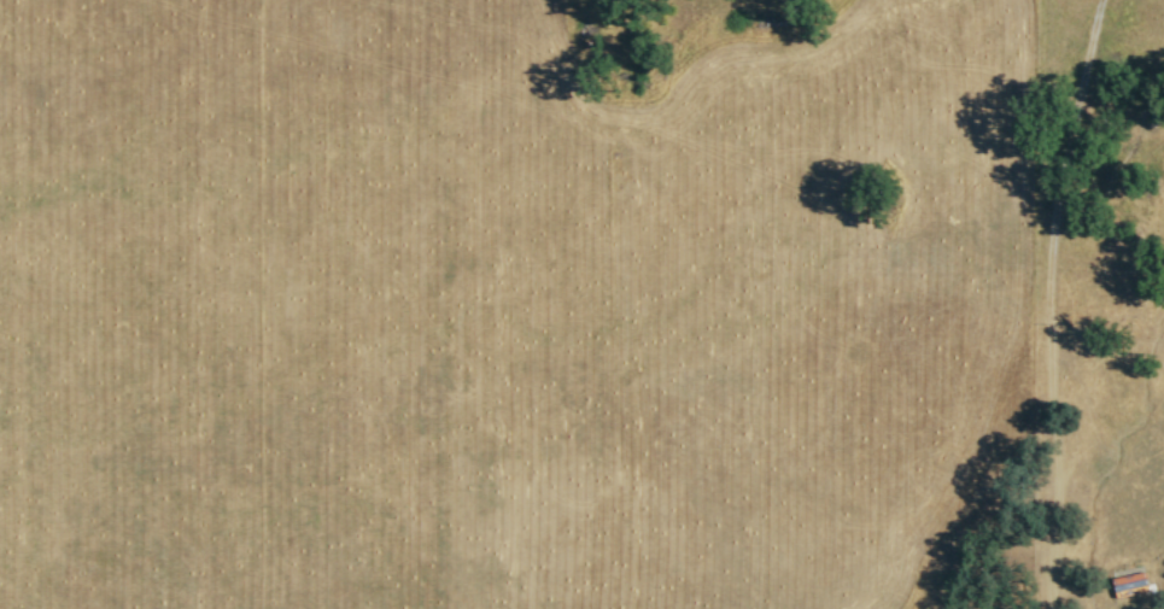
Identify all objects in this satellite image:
building: (1127, 585)

